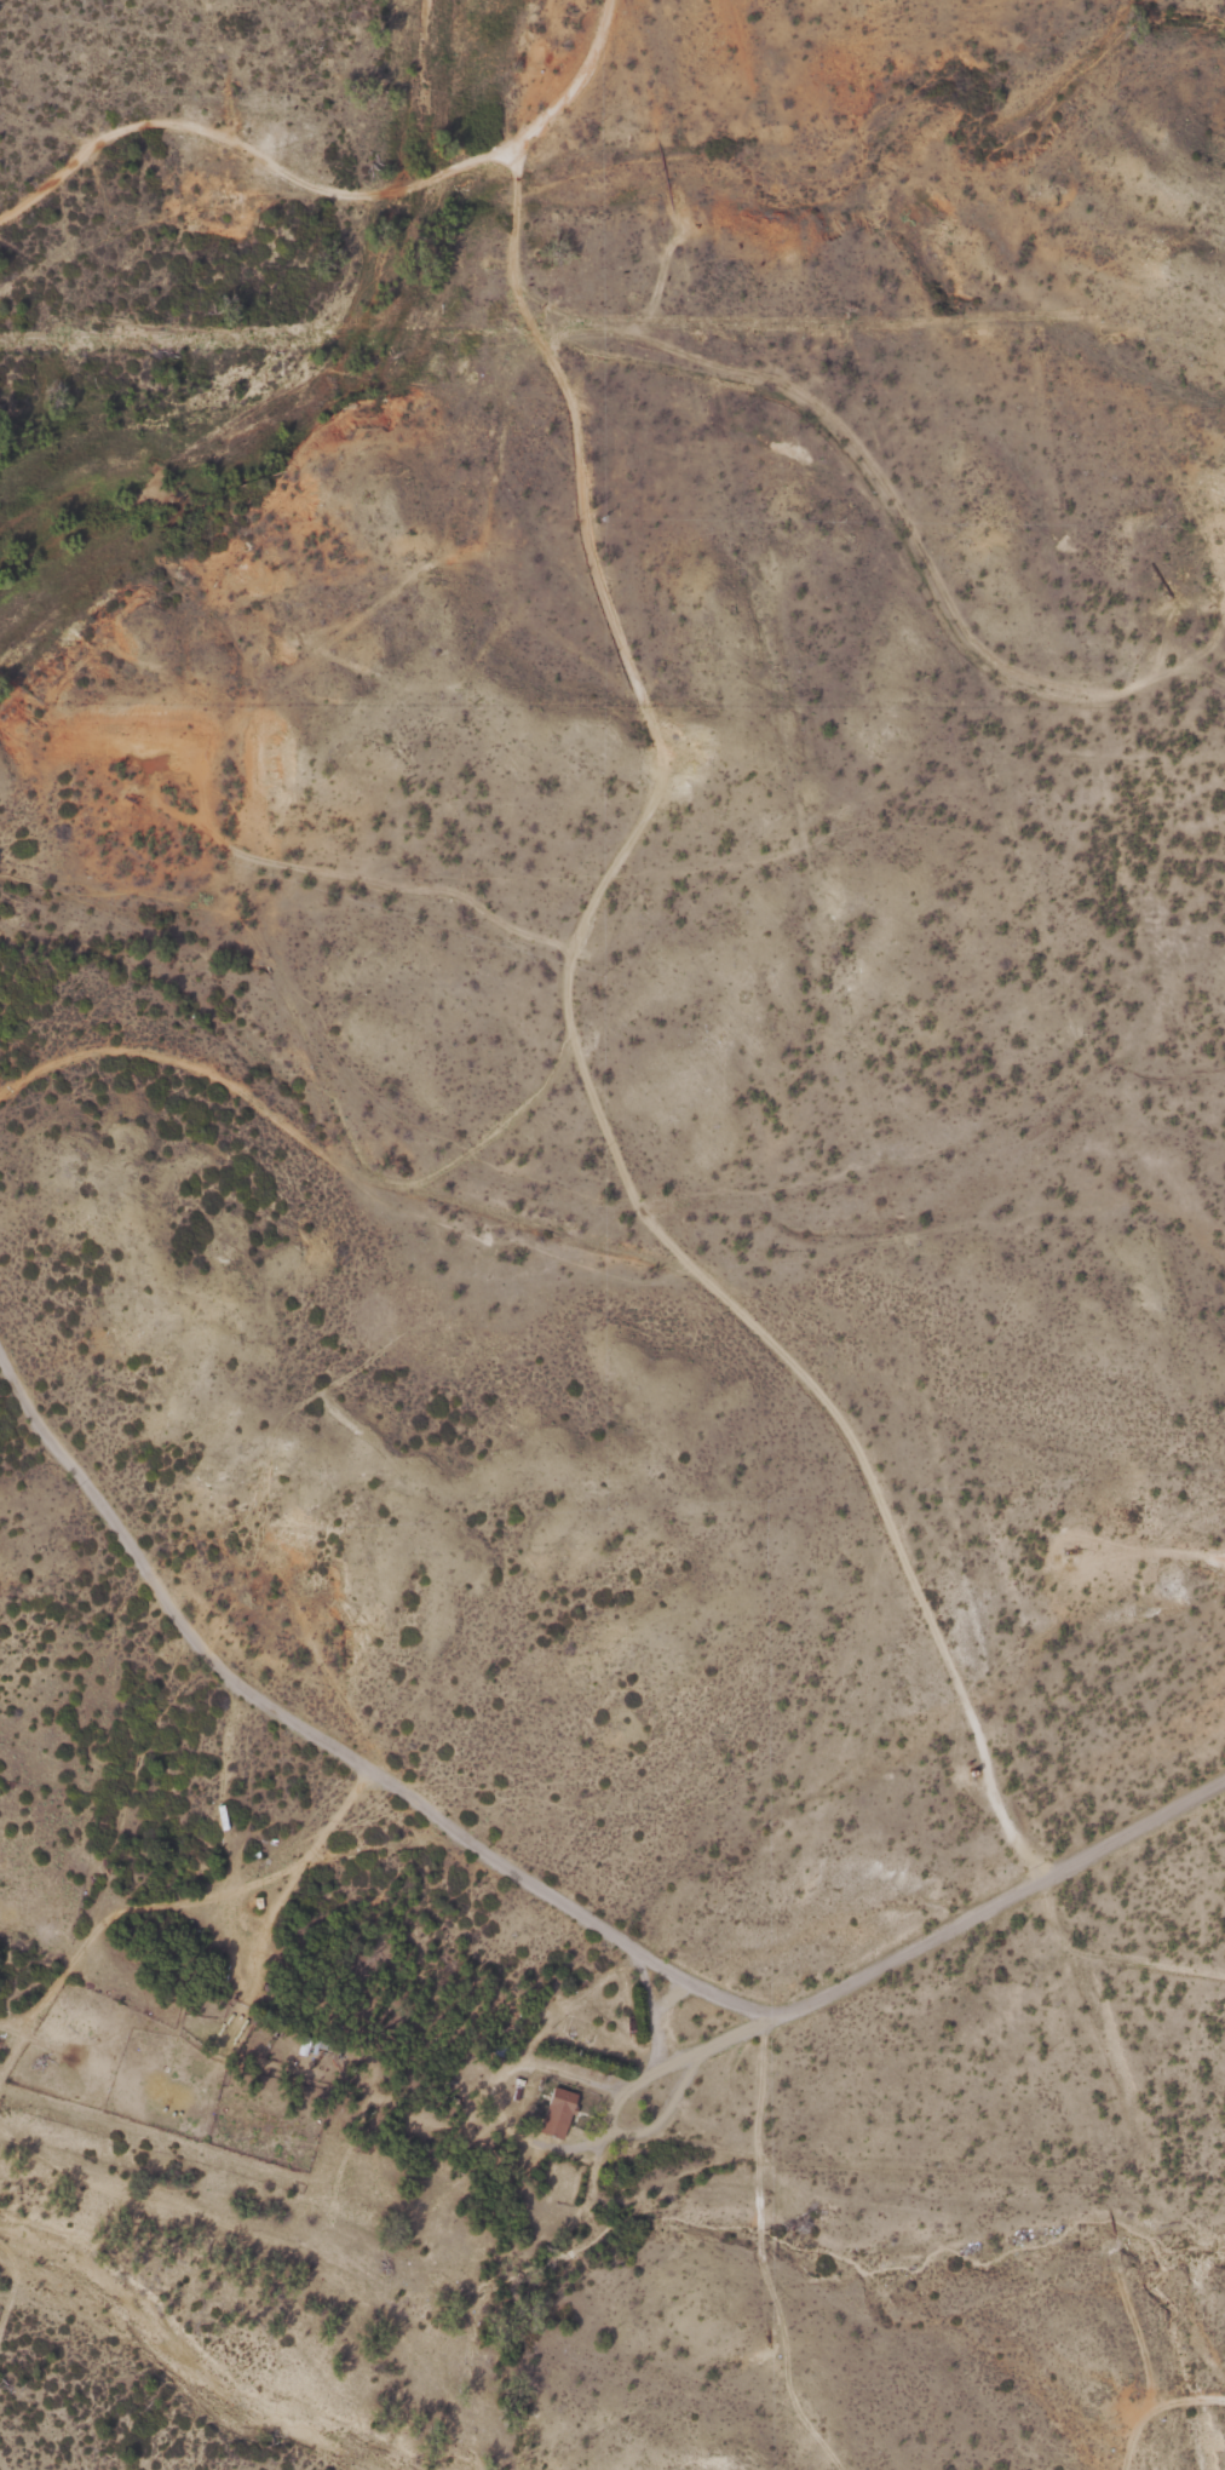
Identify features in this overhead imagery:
building: (562, 2112)

